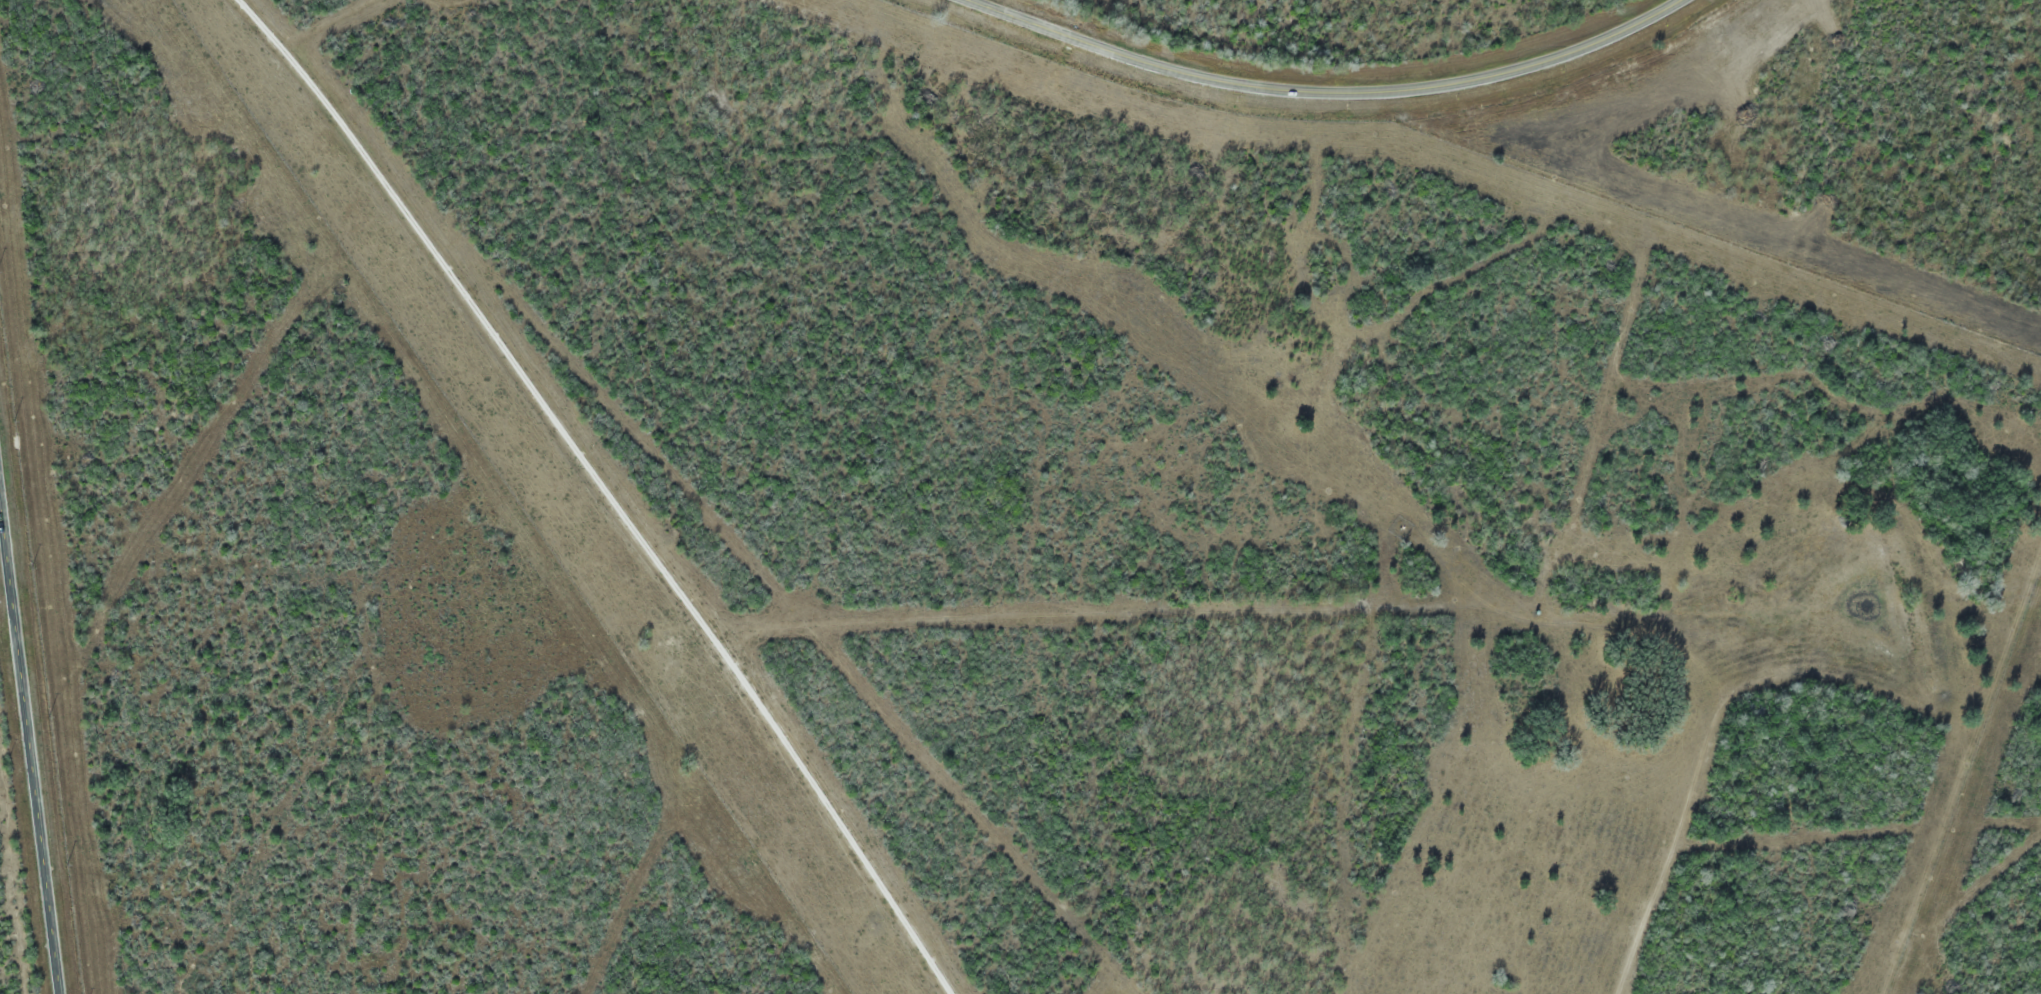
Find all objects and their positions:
road: (1326, 95)
road: (1806, 244)
road: (30, 733)

